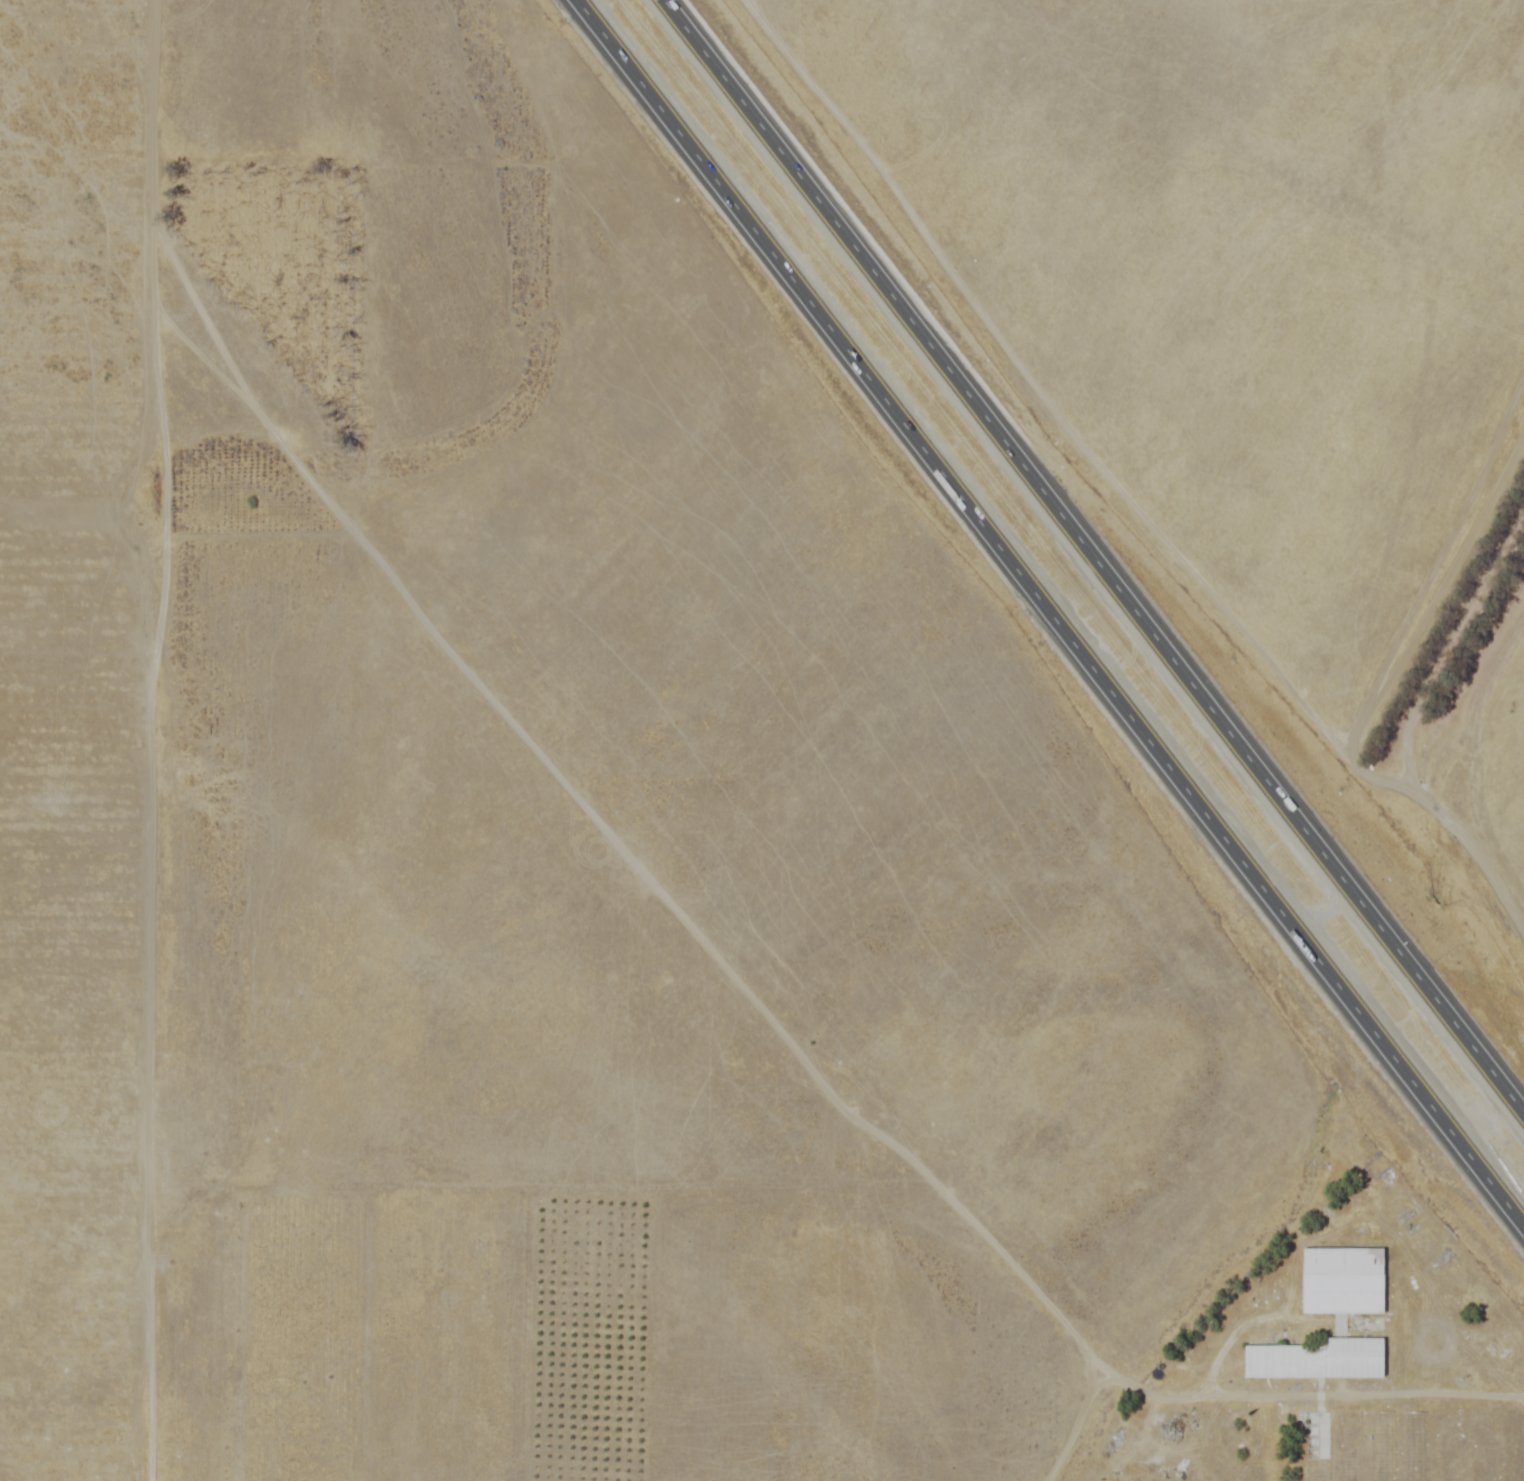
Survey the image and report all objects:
crop: (1257, 352)
road: (1092, 558)
road: (1048, 614)
road: (1413, 739)
crop: (534, 817)
road: (1326, 915)
building: (1340, 1284)
building: (1313, 1363)
road: (1384, 1393)

